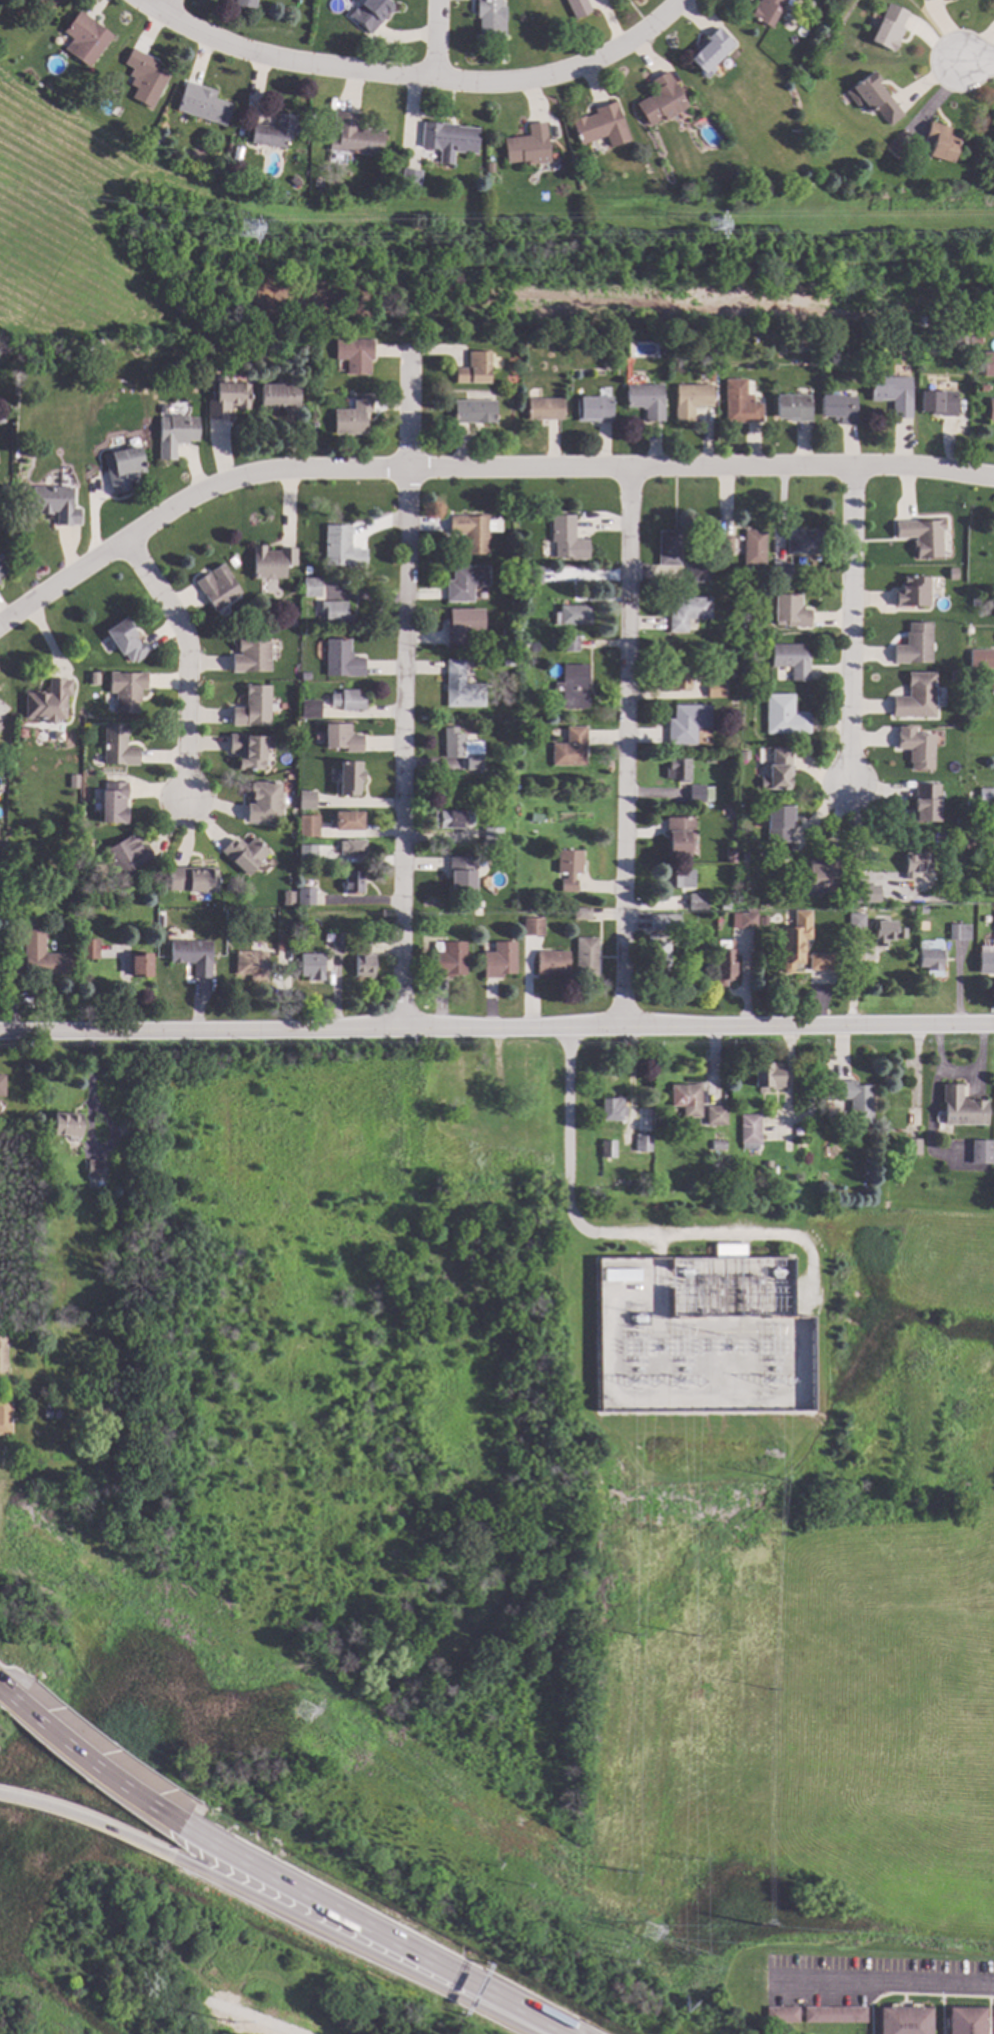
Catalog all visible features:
building: (926, 0)
building: (41, 4)
building: (244, 4)
road: (152, 8)
road: (169, 8)
building: (578, 8)
building: (766, 12)
building: (369, 14)
building: (488, 18)
building: (787, 25)
building: (889, 28)
building: (84, 39)
road: (438, 40)
building: (709, 54)
road: (977, 61)
road: (297, 62)
road: (570, 70)
building: (797, 71)
building: (144, 78)
building: (873, 99)
building: (661, 101)
building: (202, 105)
building: (600, 127)
building: (272, 133)
building: (353, 137)
building: (448, 138)
building: (157, 140)
building: (941, 143)
building: (527, 147)
building: (896, 148)
building: (738, 174)
building: (409, 179)
building: (294, 183)
building: (317, 183)
power tower: (714, 231)
power tower: (247, 234)
road: (496, 247)
building: (959, 340)
building: (974, 342)
building: (541, 343)
building: (354, 356)
building: (988, 363)
building: (474, 370)
building: (892, 395)
building: (278, 397)
building: (227, 398)
building: (690, 401)
building: (647, 402)
building: (740, 404)
building: (938, 404)
building: (793, 408)
building: (839, 409)
building: (544, 410)
building: (594, 411)
building: (990, 411)
building: (474, 413)
building: (352, 418)
building: (1, 420)
building: (314, 425)
building: (174, 435)
building: (121, 469)
road: (476, 470)
building: (54, 505)
building: (473, 532)
building: (922, 537)
building: (567, 540)
building: (803, 542)
building: (700, 543)
building: (724, 546)
building: (341, 549)
building: (668, 549)
building: (753, 549)
building: (232, 562)
building: (271, 562)
building: (2, 570)
building: (306, 570)
building: (698, 573)
building: (779, 573)
building: (531, 576)
building: (757, 578)
building: (465, 583)
building: (311, 587)
building: (217, 588)
building: (911, 593)
building: (974, 603)
building: (788, 612)
building: (571, 613)
building: (334, 614)
building: (687, 614)
road: (851, 625)
building: (462, 626)
building: (968, 632)
building: (506, 634)
building: (125, 641)
building: (746, 642)
building: (570, 644)
building: (914, 645)
building: (251, 656)
building: (981, 659)
building: (341, 660)
building: (790, 660)
road: (190, 663)
building: (731, 676)
building: (304, 678)
building: (92, 679)
building: (677, 680)
road: (404, 684)
building: (992, 684)
building: (572, 686)
building: (461, 688)
building: (715, 689)
building: (126, 691)
building: (915, 696)
building: (48, 701)
building: (347, 701)
building: (253, 708)
building: (310, 710)
building: (968, 710)
building: (783, 716)
building: (686, 724)
building: (520, 725)
building: (0, 726)
building: (0, 728)
building: (340, 739)
road: (626, 746)
building: (117, 747)
building: (916, 747)
building: (460, 748)
building: (569, 749)
building: (249, 750)
building: (743, 756)
building: (677, 771)
building: (776, 772)
building: (288, 777)
building: (346, 780)
building: (2, 789)
building: (698, 794)
building: (970, 797)
building: (986, 798)
building: (304, 800)
building: (264, 802)
building: (925, 802)
building: (114, 803)
building: (536, 819)
building: (451, 820)
building: (347, 822)
building: (778, 824)
building: (308, 826)
building: (679, 838)
building: (492, 839)
building: (968, 847)
building: (352, 849)
road: (857, 849)
building: (126, 854)
building: (244, 854)
building: (306, 855)
building: (729, 855)
building: (872, 855)
building: (742, 856)
building: (915, 864)
building: (568, 869)
building: (0, 875)
building: (461, 875)
building: (817, 876)
building: (678, 880)
building: (191, 881)
building: (352, 883)
building: (865, 893)
building: (305, 897)
building: (287, 899)
building: (848, 899)
building: (697, 901)
building: (724, 906)
building: (922, 910)
building: (477, 912)
building: (582, 914)
building: (743, 922)
building: (855, 922)
building: (993, 922)
building: (663, 923)
building: (889, 927)
building: (532, 928)
building: (955, 933)
building: (909, 934)
building: (337, 941)
building: (794, 941)
building: (282, 943)
building: (88, 950)
building: (191, 955)
building: (41, 956)
building: (586, 958)
building: (658, 959)
building: (363, 960)
building: (448, 960)
building: (930, 960)
building: (985, 961)
building: (499, 962)
building: (820, 962)
building: (551, 964)
building: (140, 967)
building: (252, 967)
building: (724, 967)
building: (312, 968)
road: (496, 1021)
building: (520, 1061)
building: (768, 1076)
building: (2, 1087)
building: (686, 1100)
building: (854, 1101)
building: (796, 1103)
building: (963, 1109)
building: (465, 1110)
building: (612, 1110)
building: (491, 1114)
building: (715, 1117)
road: (86, 1124)
building: (66, 1126)
building: (749, 1132)
building: (5, 1139)
building: (642, 1144)
building: (717, 1146)
building: (913, 1147)
building: (607, 1151)
building: (979, 1153)
building: (993, 1156)
building: (509, 1165)
building: (768, 1167)
building: (95, 1170)
building: (750, 1177)
road: (619, 1224)
building: (730, 1252)
building: (622, 1276)
building: (46, 1334)
power substation: (698, 1335)
building: (2, 1354)
building: (48, 1415)
building: (5, 1416)
power tower: (777, 1479)
power tower: (632, 1635)
power tower: (691, 1636)
power tower: (769, 1689)
road: (5, 1695)
road: (100, 1771)
road: (95, 1822)
power tower: (690, 1859)
power tower: (622, 1872)
power tower: (760, 1927)
road: (373, 1933)
power tower: (647, 1934)
road: (364, 1947)
power tower: (614, 1948)
power tower: (690, 1956)
road: (889, 1978)
building: (832, 2015)
building: (780, 2016)
building: (993, 2019)
building: (902, 2020)
building: (964, 2020)

